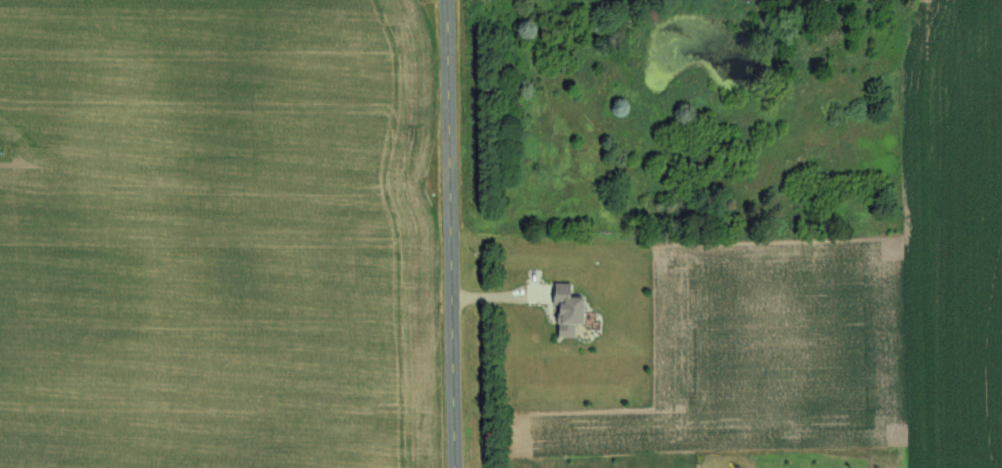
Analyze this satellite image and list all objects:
crop: (219, 234)
road: (451, 234)
road: (502, 295)
building: (566, 307)
crop: (841, 307)

